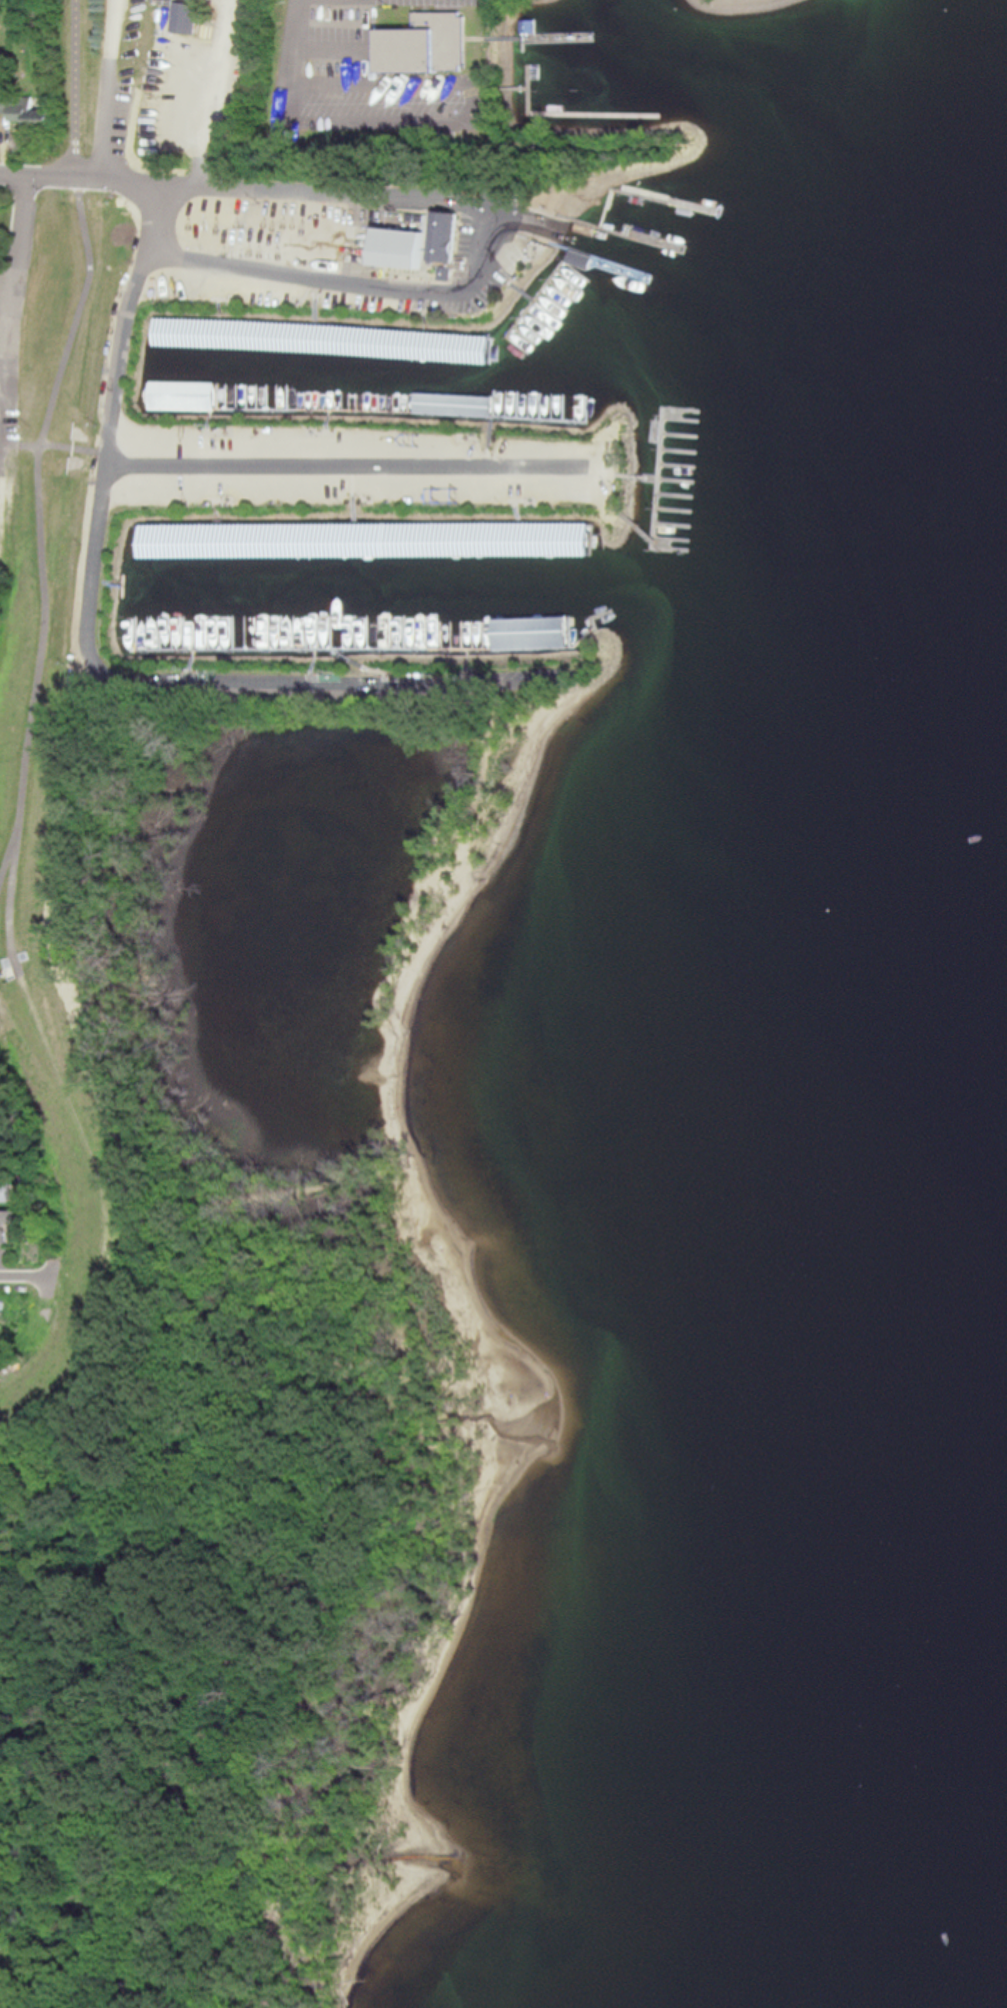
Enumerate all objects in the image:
building: (185, 18)
building: (426, 44)
road: (293, 60)
building: (560, 60)
road: (108, 89)
building: (563, 98)
building: (22, 112)
road: (371, 120)
road: (209, 188)
building: (446, 238)
building: (401, 248)
road: (384, 287)
road: (11, 310)
building: (582, 322)
building: (295, 358)
building: (445, 404)
road: (40, 442)
road: (55, 445)
building: (182, 577)
road: (93, 605)
building: (534, 633)
building: (4, 1191)
building: (6, 1225)
road: (23, 1277)

